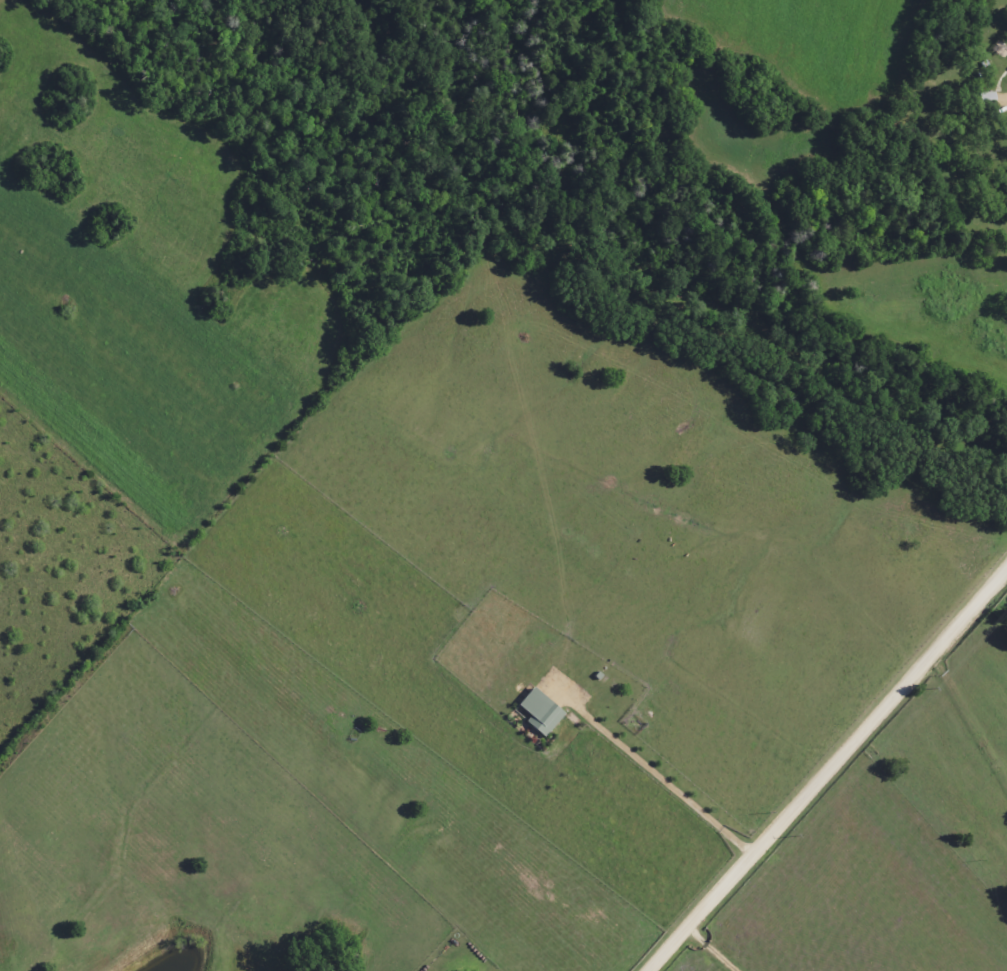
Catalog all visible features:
building: (1006, 69)
road: (960, 754)
road: (831, 773)

